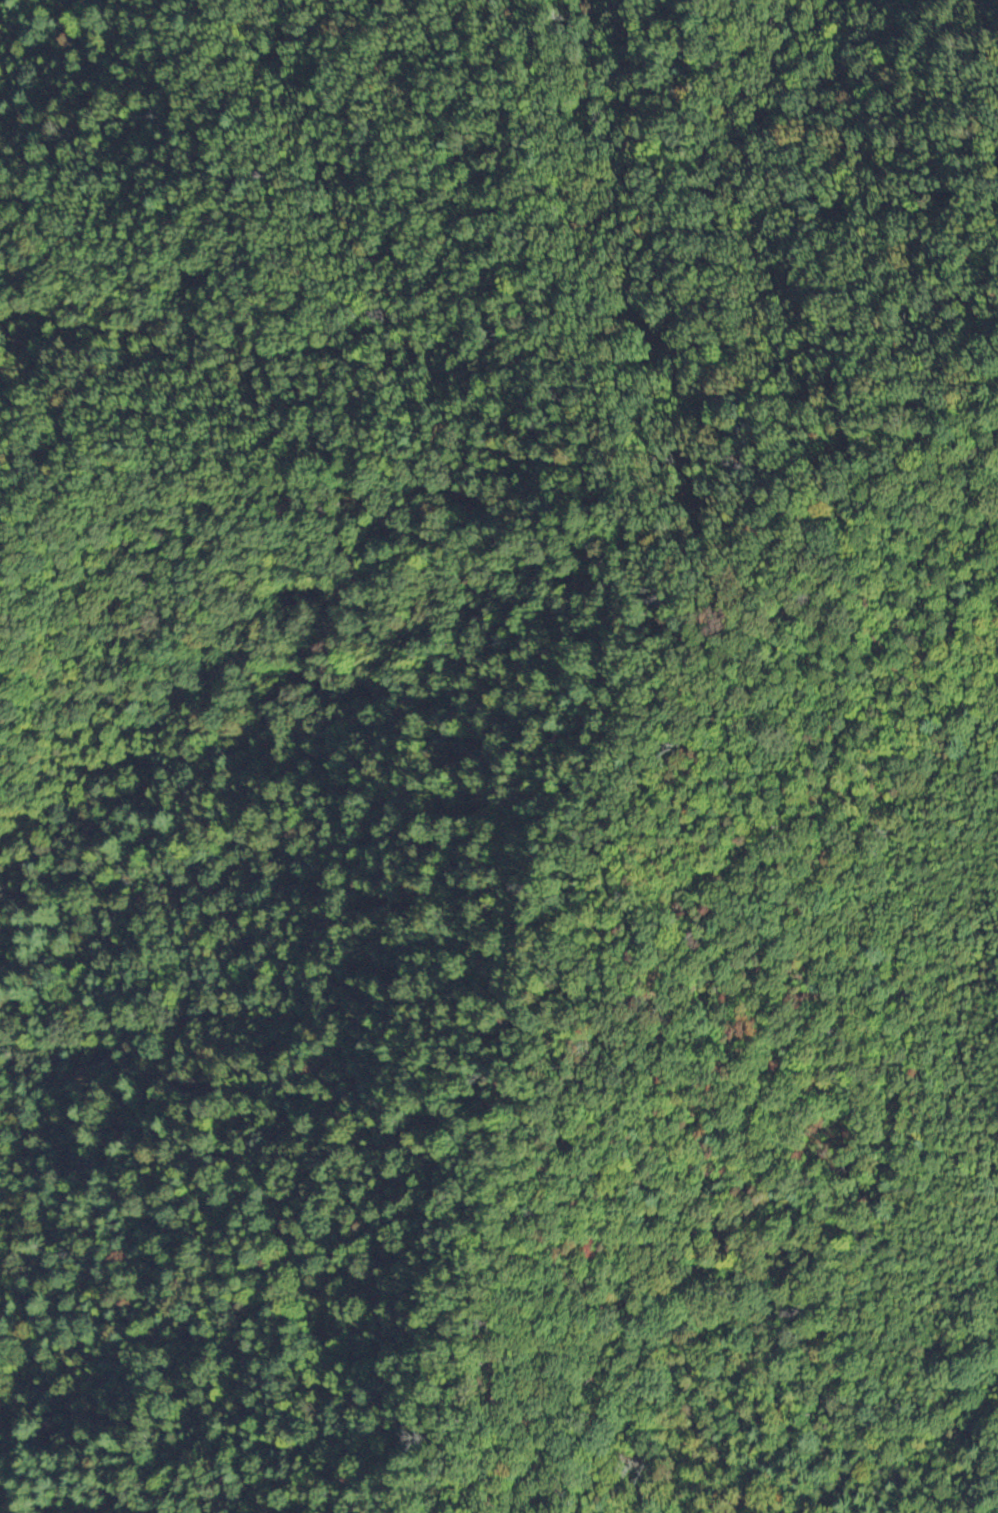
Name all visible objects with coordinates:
road: (3, 1498)

